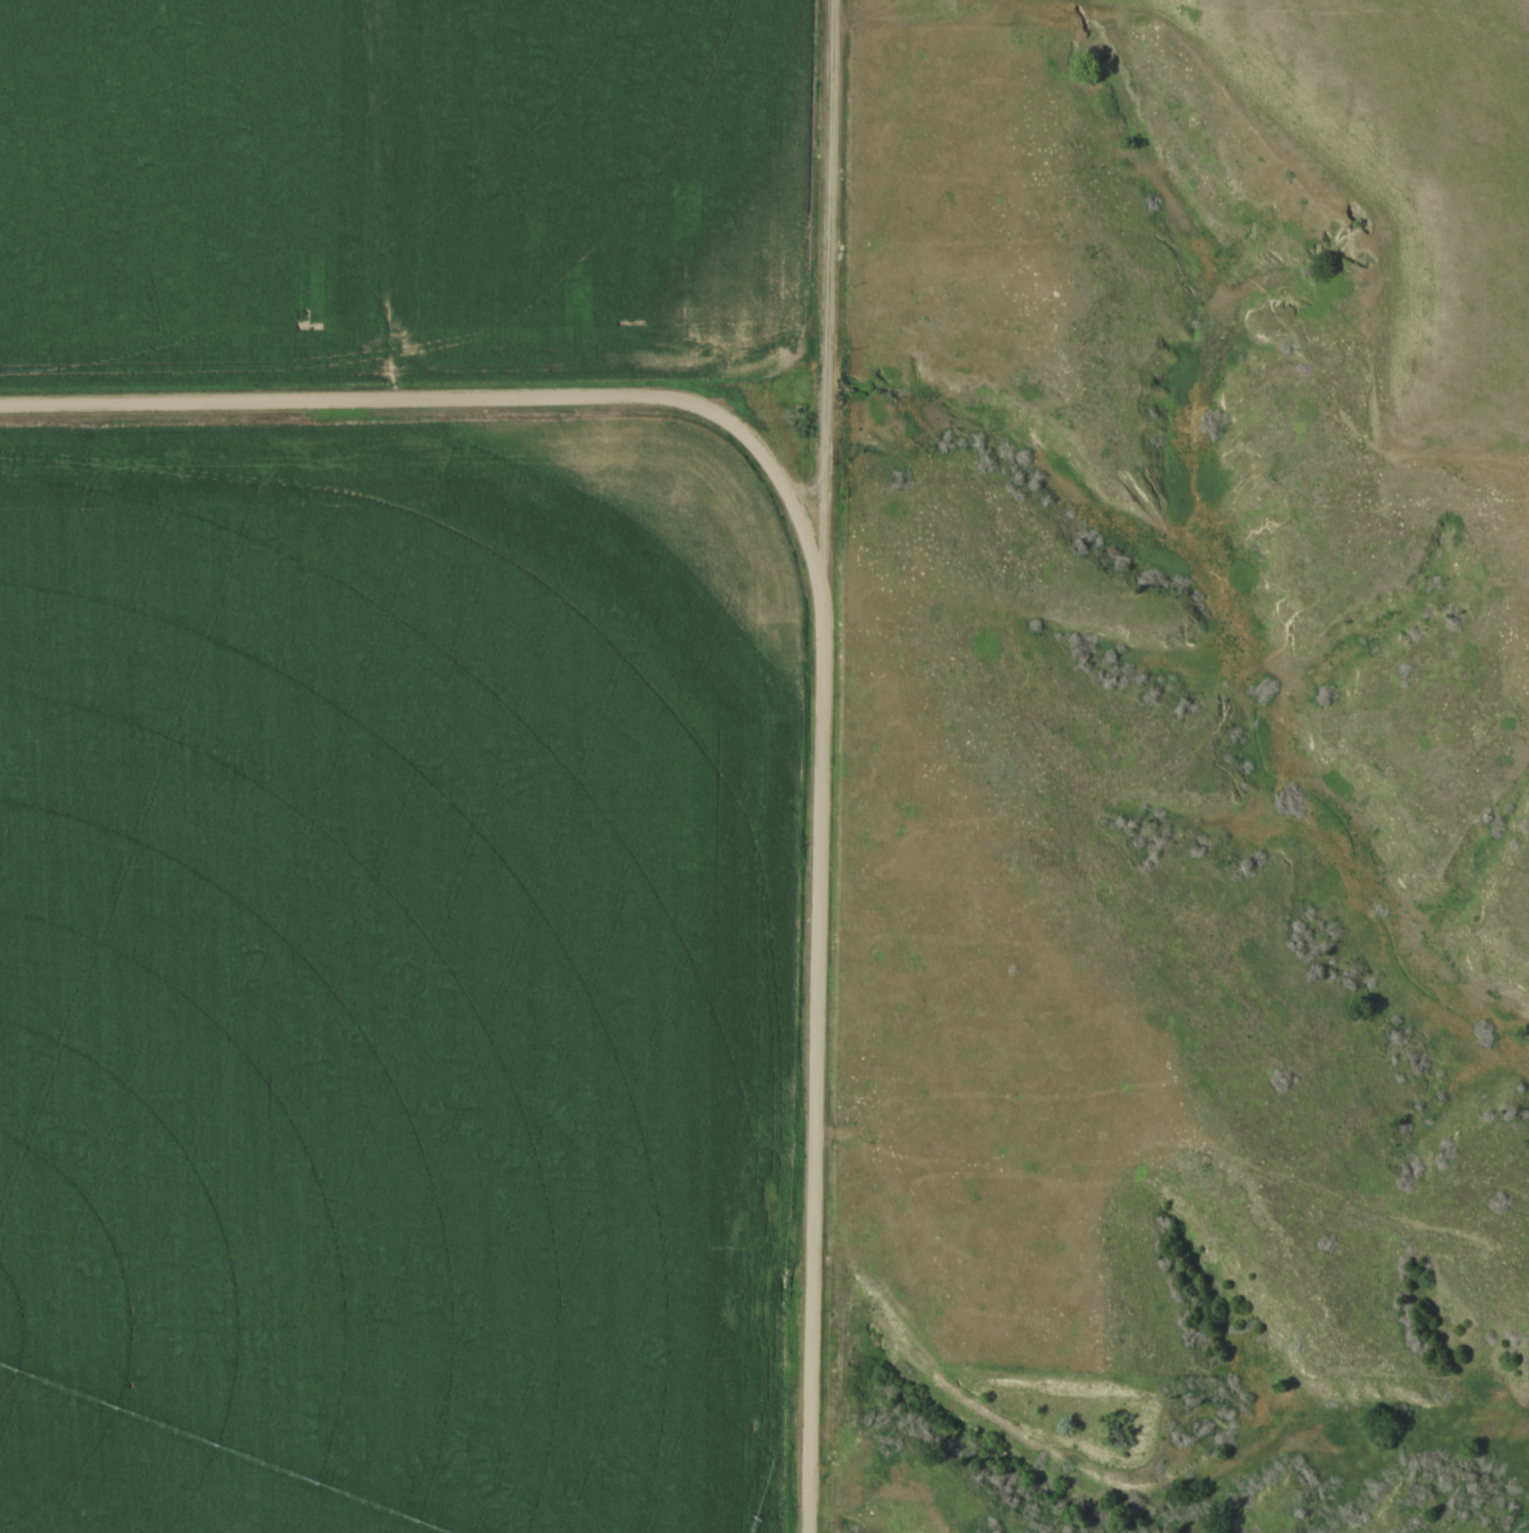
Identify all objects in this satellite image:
road: (468, 394)
road: (810, 504)
road: (823, 766)

